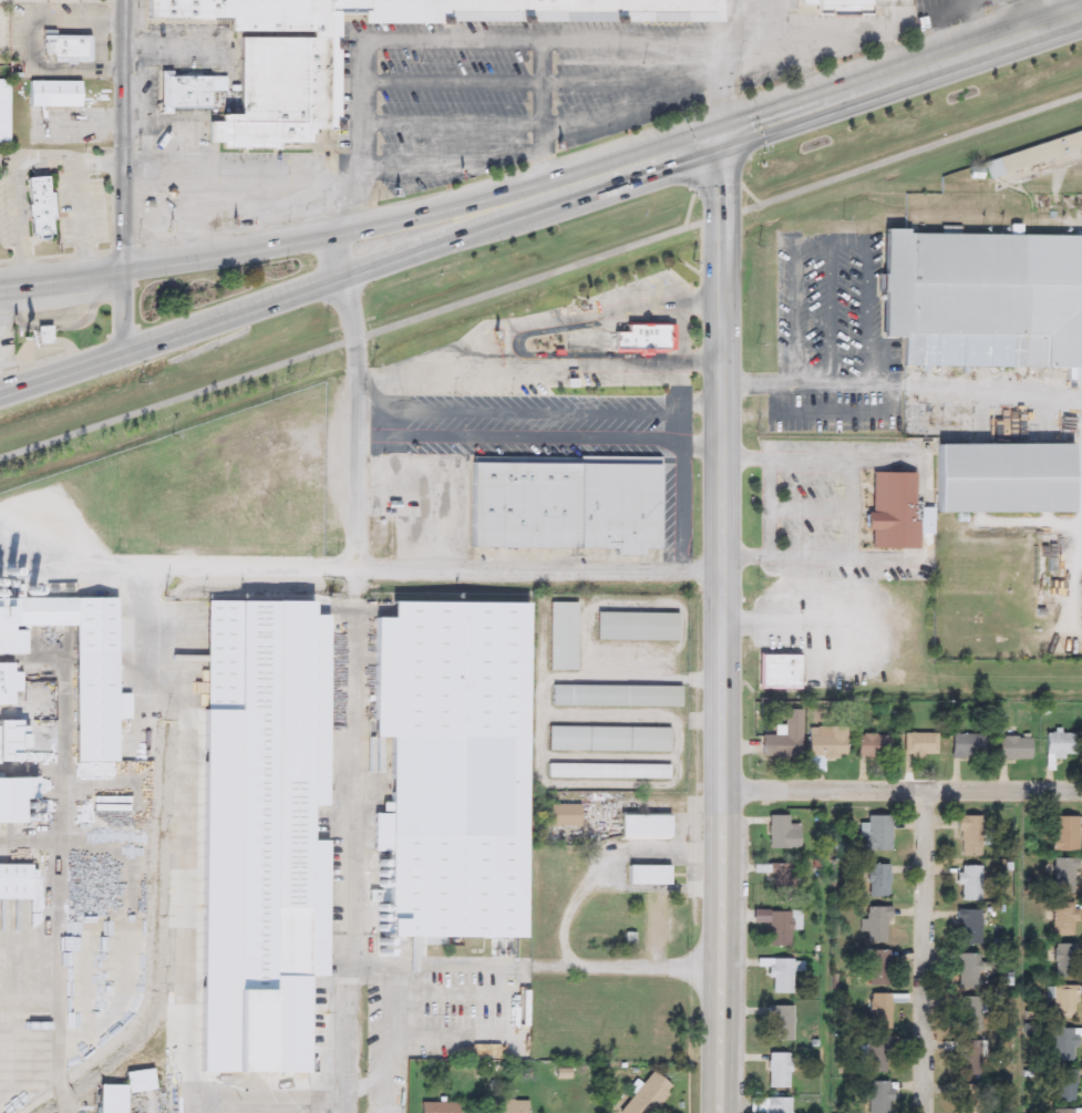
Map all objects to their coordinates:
building: (846, 4)
building: (670, 8)
building: (590, 10)
building: (237, 11)
road: (496, 41)
building: (71, 43)
road: (901, 72)
building: (327, 80)
road: (452, 83)
building: (189, 87)
building: (274, 93)
building: (53, 94)
building: (3, 114)
road: (543, 116)
road: (453, 123)
traffic signals: (721, 135)
building: (1070, 142)
road: (102, 157)
road: (628, 163)
road: (124, 175)
road: (240, 181)
road: (717, 182)
road: (751, 186)
road: (20, 195)
building: (41, 206)
road: (689, 206)
road: (82, 218)
road: (267, 239)
road: (540, 270)
building: (986, 295)
road: (270, 300)
road: (66, 321)
parking lot: (835, 331)
building: (646, 336)
parking lot: (563, 341)
road: (515, 346)
road: (901, 377)
road: (557, 413)
road: (378, 421)
road: (674, 426)
road: (555, 437)
building: (575, 455)
road: (745, 456)
road: (812, 463)
building: (1001, 478)
building: (395, 498)
building: (527, 503)
road: (813, 504)
building: (622, 506)
building: (897, 507)
road: (769, 509)
road: (856, 512)
road: (744, 558)
road: (812, 558)
road: (404, 563)
building: (641, 620)
road: (800, 622)
road: (722, 624)
building: (567, 632)
building: (75, 662)
road: (354, 667)
building: (783, 668)
building: (7, 684)
building: (619, 690)
building: (612, 733)
building: (7, 739)
building: (782, 739)
building: (826, 743)
building: (919, 745)
building: (966, 745)
building: (872, 746)
building: (1058, 748)
building: (1012, 749)
building: (612, 765)
building: (512, 776)
road: (903, 786)
building: (13, 795)
building: (559, 816)
road: (188, 822)
building: (266, 824)
building: (642, 826)
building: (876, 833)
building: (782, 834)
building: (1063, 834)
building: (969, 836)
building: (647, 876)
building: (1063, 877)
building: (780, 878)
building: (877, 880)
building: (13, 882)
building: (968, 884)
building: (1063, 919)
building: (874, 925)
building: (967, 928)
road: (925, 949)
building: (1063, 960)
road: (534, 961)
building: (876, 968)
building: (968, 971)
building: (779, 976)
building: (1064, 1002)
road: (61, 1011)
building: (879, 1012)
building: (969, 1014)
building: (780, 1023)
building: (1063, 1044)
building: (873, 1055)
building: (969, 1058)
building: (779, 1071)
building: (1063, 1085)
building: (121, 1091)
building: (647, 1093)
road: (266, 1096)
building: (878, 1097)
building: (967, 1100)
building: (770, 1105)
building: (505, 1106)
building: (437, 1107)
building: (1062, 1111)

